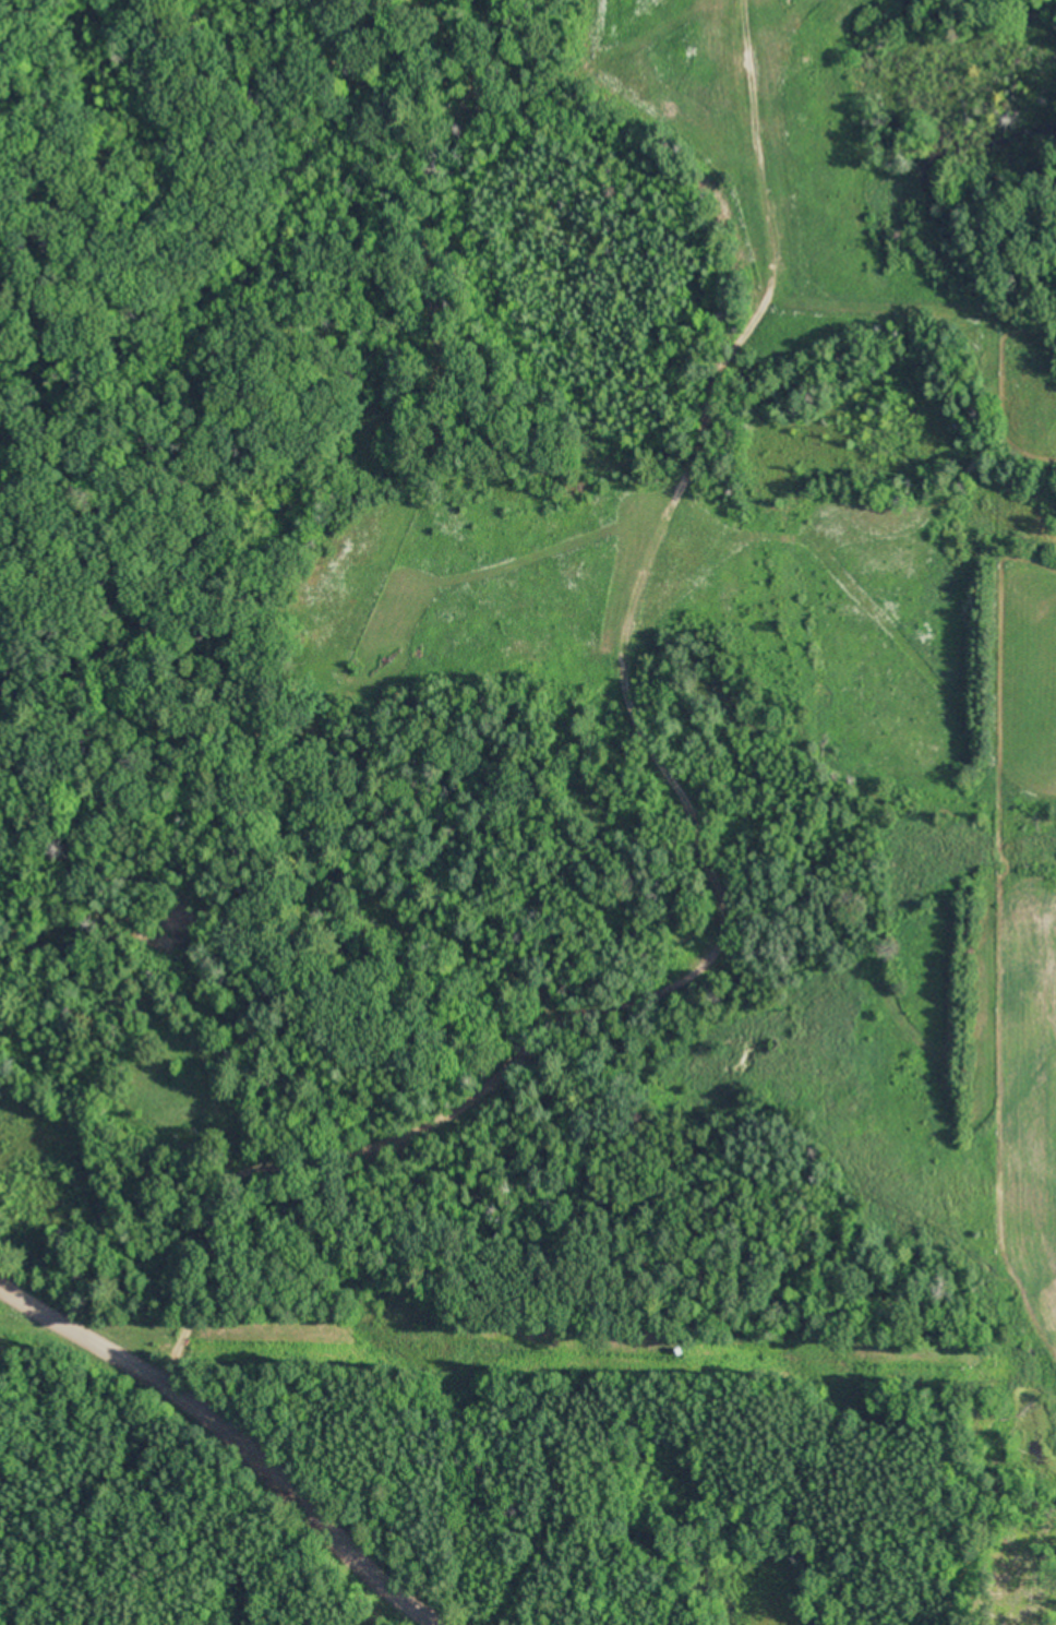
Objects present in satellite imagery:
road: (301, 695)
road: (228, 1441)

